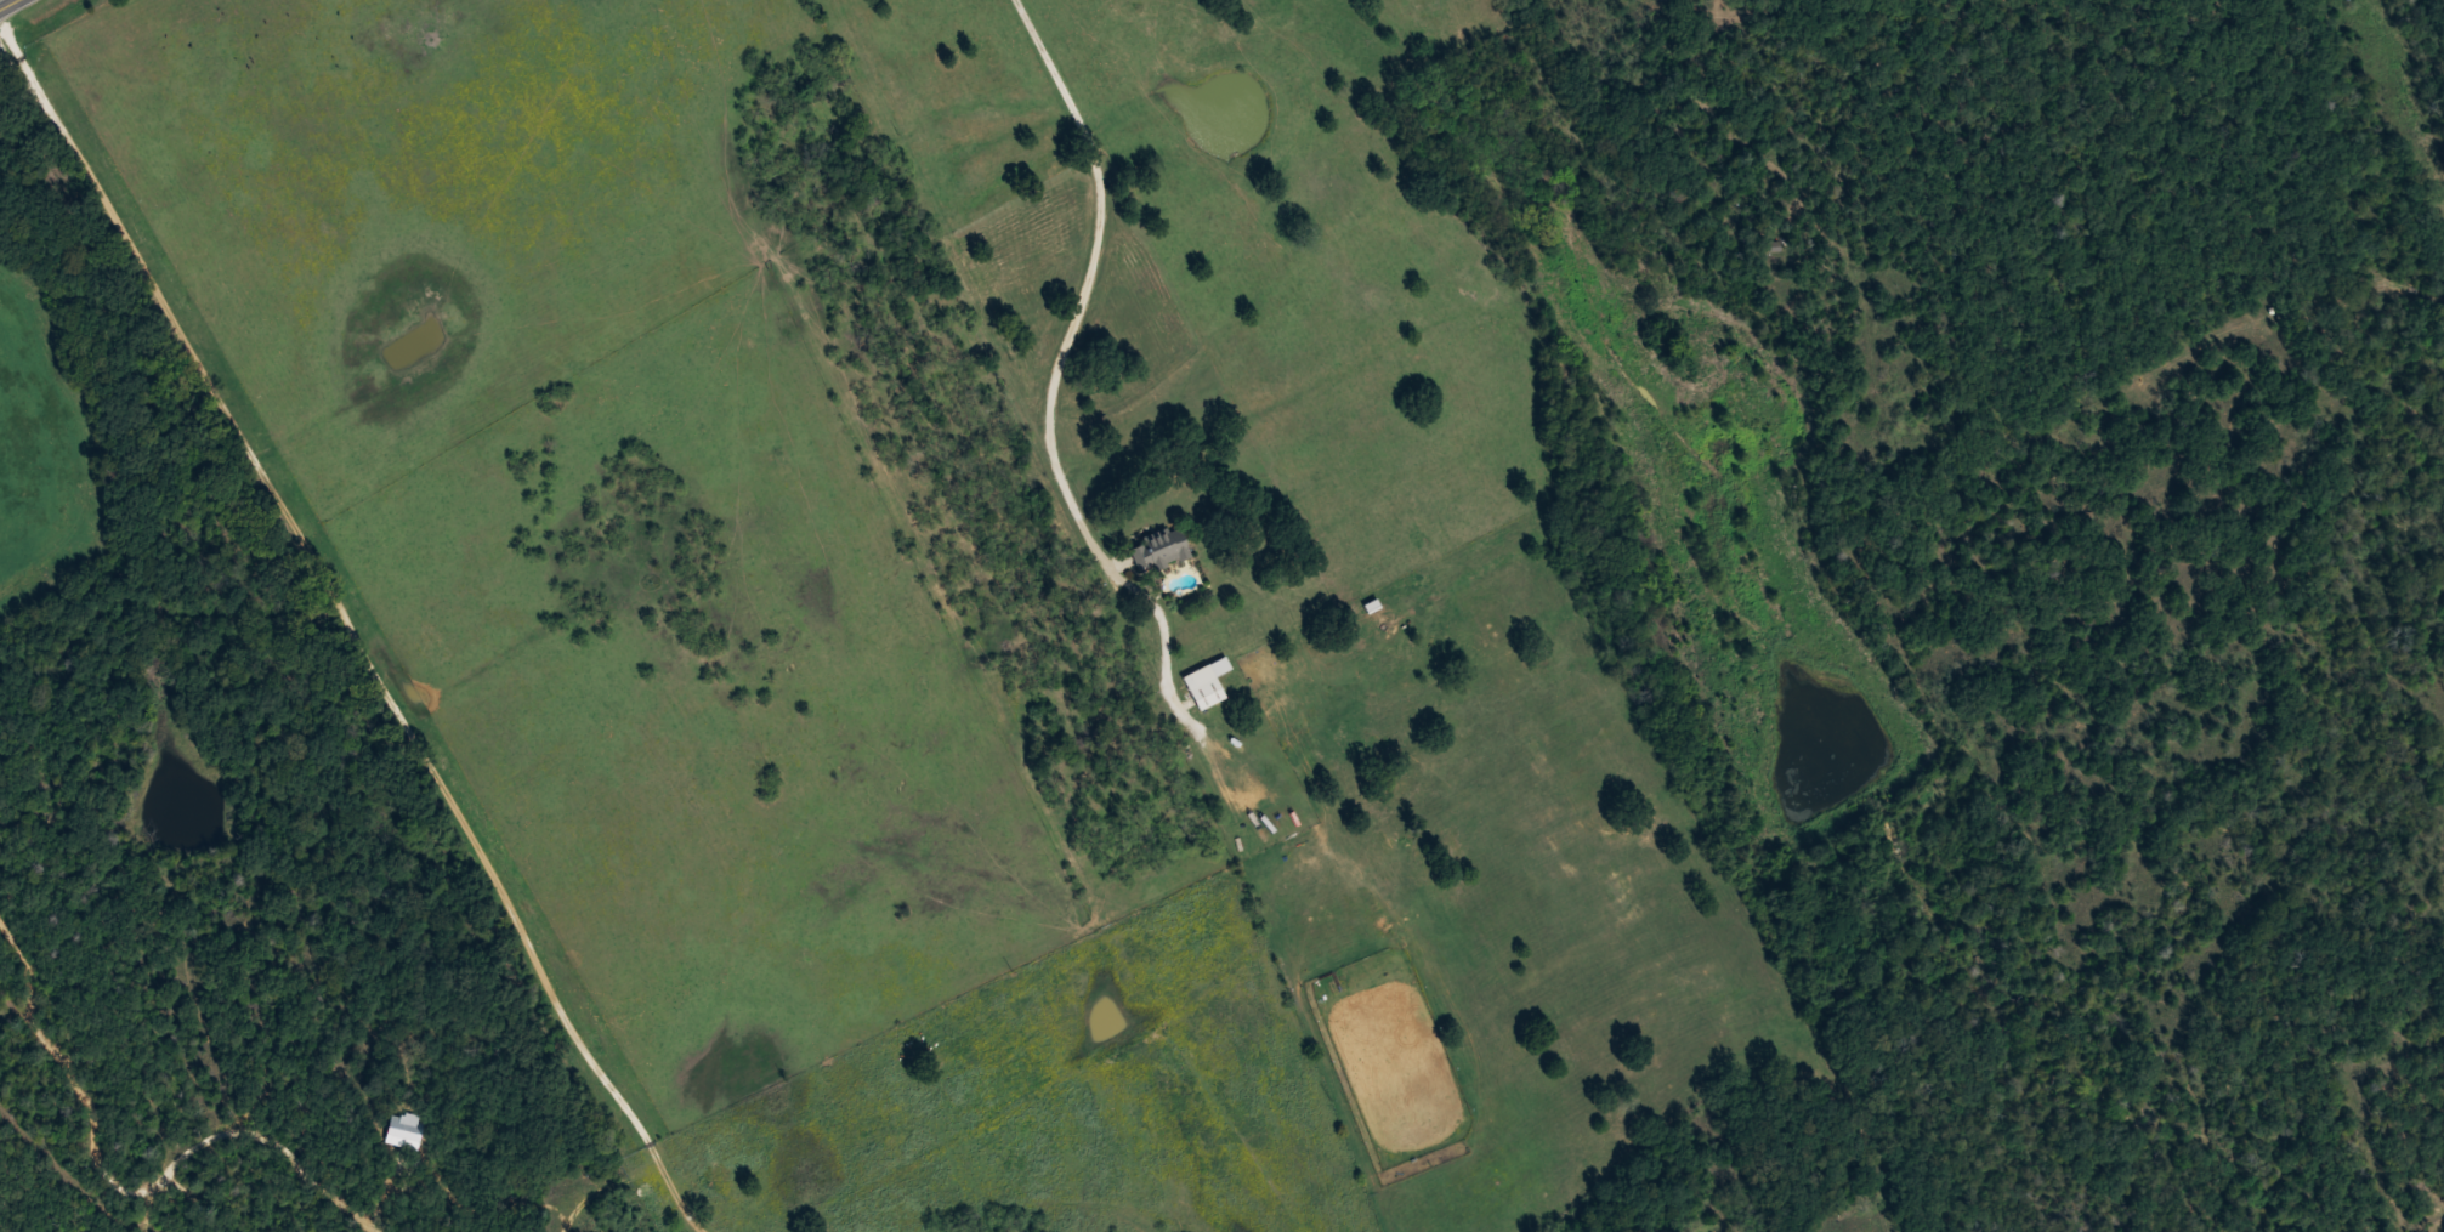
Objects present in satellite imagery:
road: (8, 5)
building: (966, 274)
road: (1062, 363)
building: (1159, 547)
road: (361, 626)
building: (1203, 686)
building: (404, 1128)

